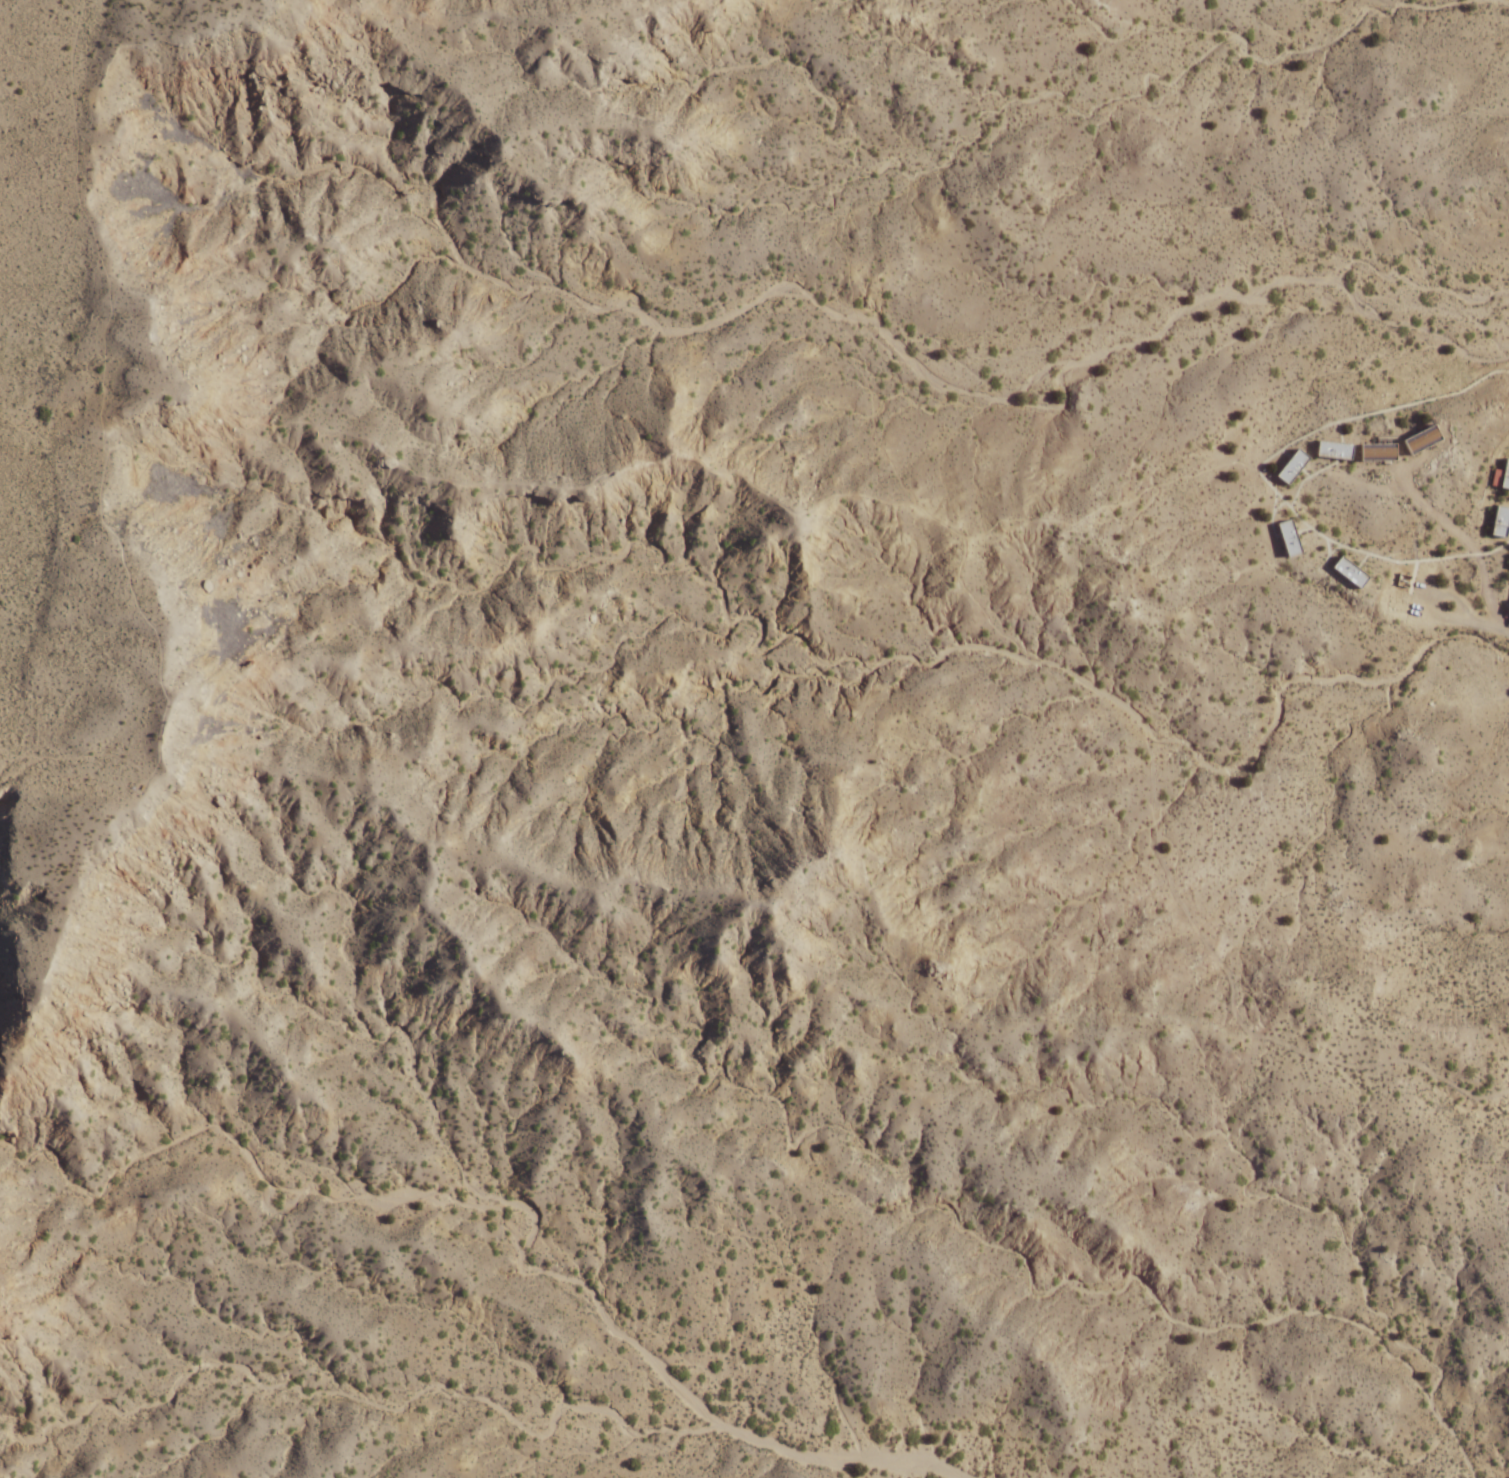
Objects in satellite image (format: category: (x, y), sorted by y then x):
river: (1508, 1)
road: (95, 225)
road: (843, 252)
road: (1340, 431)
building: (1425, 439)
building: (1336, 449)
road: (1285, 453)
building: (1380, 453)
road: (213, 454)
building: (1293, 466)
road: (1305, 472)
road: (1260, 474)
road: (1307, 476)
building: (1501, 476)
road: (536, 481)
road: (855, 493)
road: (1110, 504)
road: (1272, 517)
road: (937, 521)
building: (1501, 521)
road: (1303, 529)
building: (1290, 537)
road: (1508, 541)
road: (1470, 547)
road: (1333, 549)
road: (1362, 559)
road: (1326, 568)
building: (1351, 571)
road: (1414, 576)
road: (1423, 601)
road: (976, 603)
road: (144, 607)
building: (1507, 610)
road: (1089, 684)
road: (79, 756)
road: (141, 788)
road: (1234, 1010)
river: (689, 1399)

